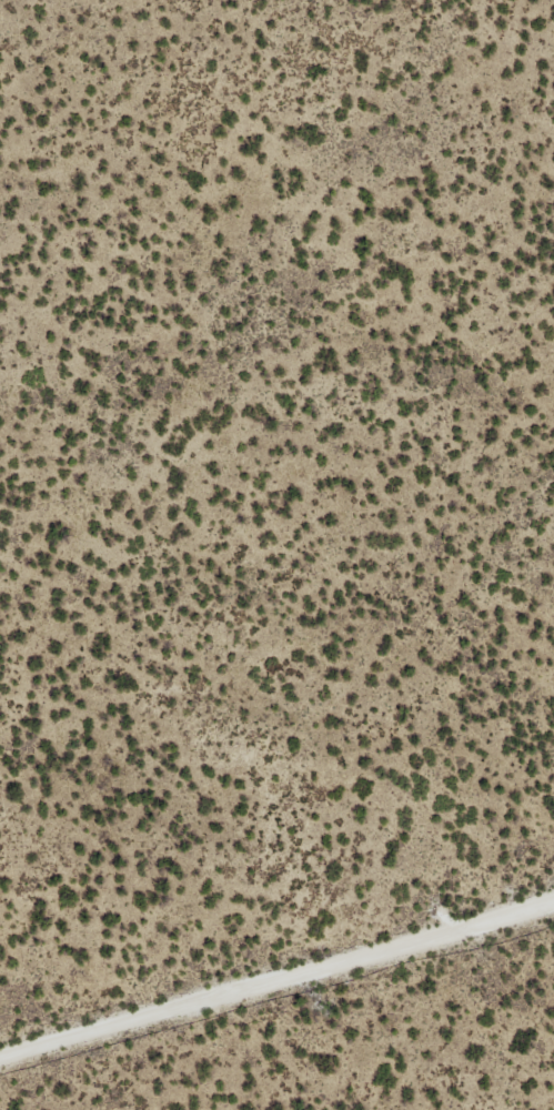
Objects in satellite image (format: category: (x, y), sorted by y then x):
road: (276, 975)

